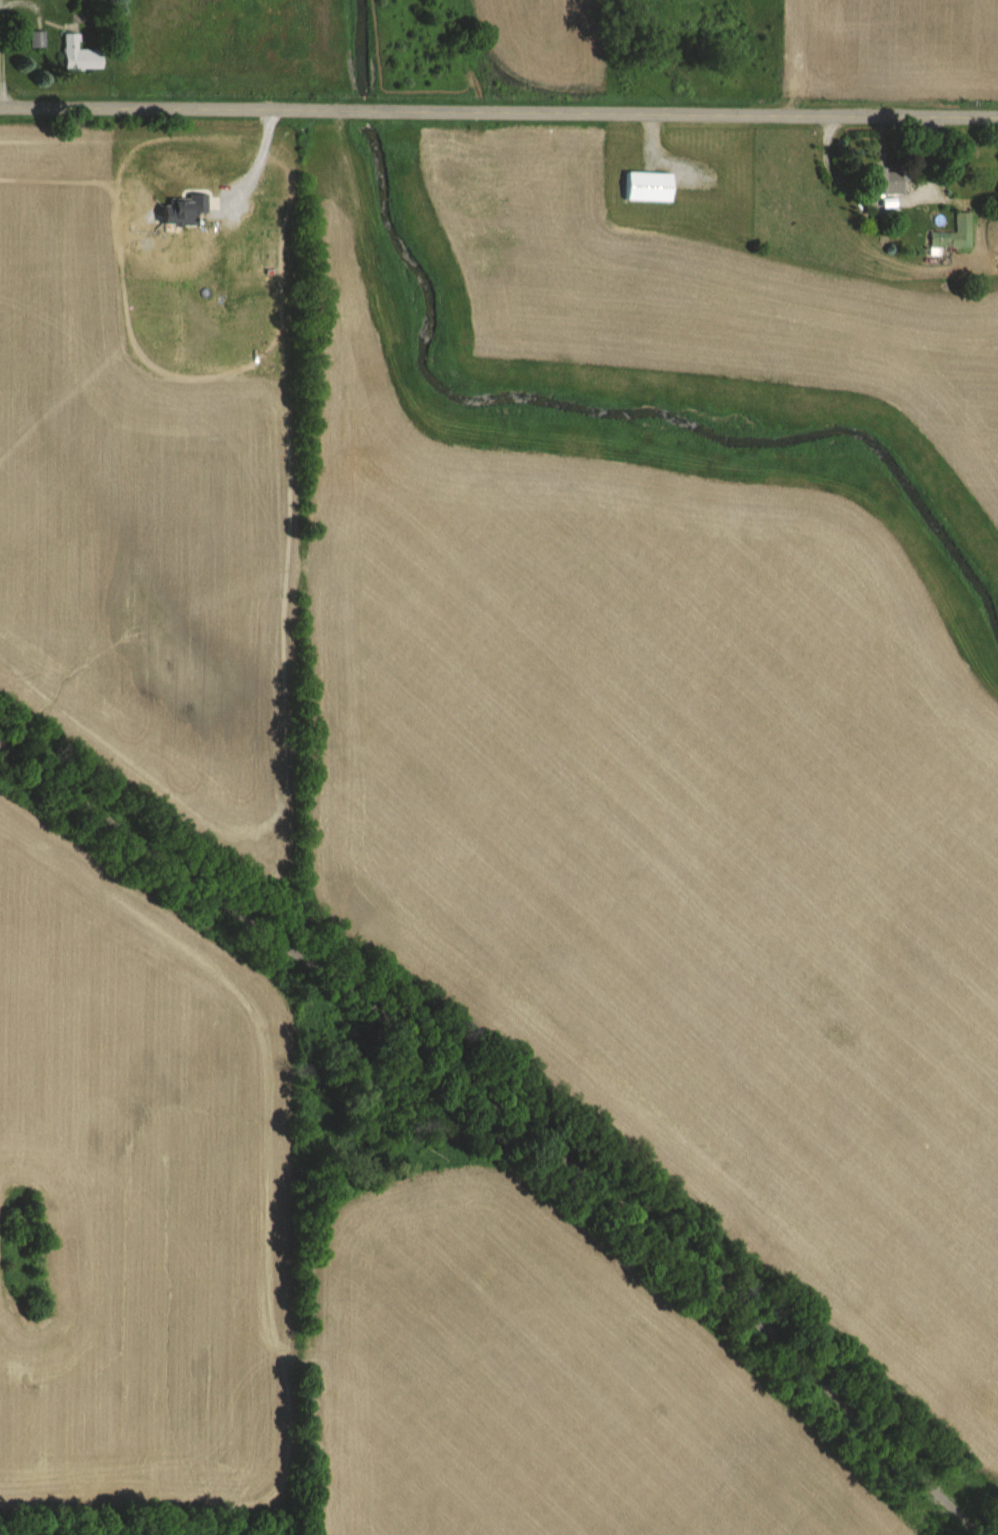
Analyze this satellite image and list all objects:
road: (27, 10)
building: (34, 39)
building: (74, 55)
road: (0, 81)
road: (499, 111)
building: (881, 182)
building: (645, 186)
road: (874, 208)
building: (951, 234)
road: (516, 1094)

